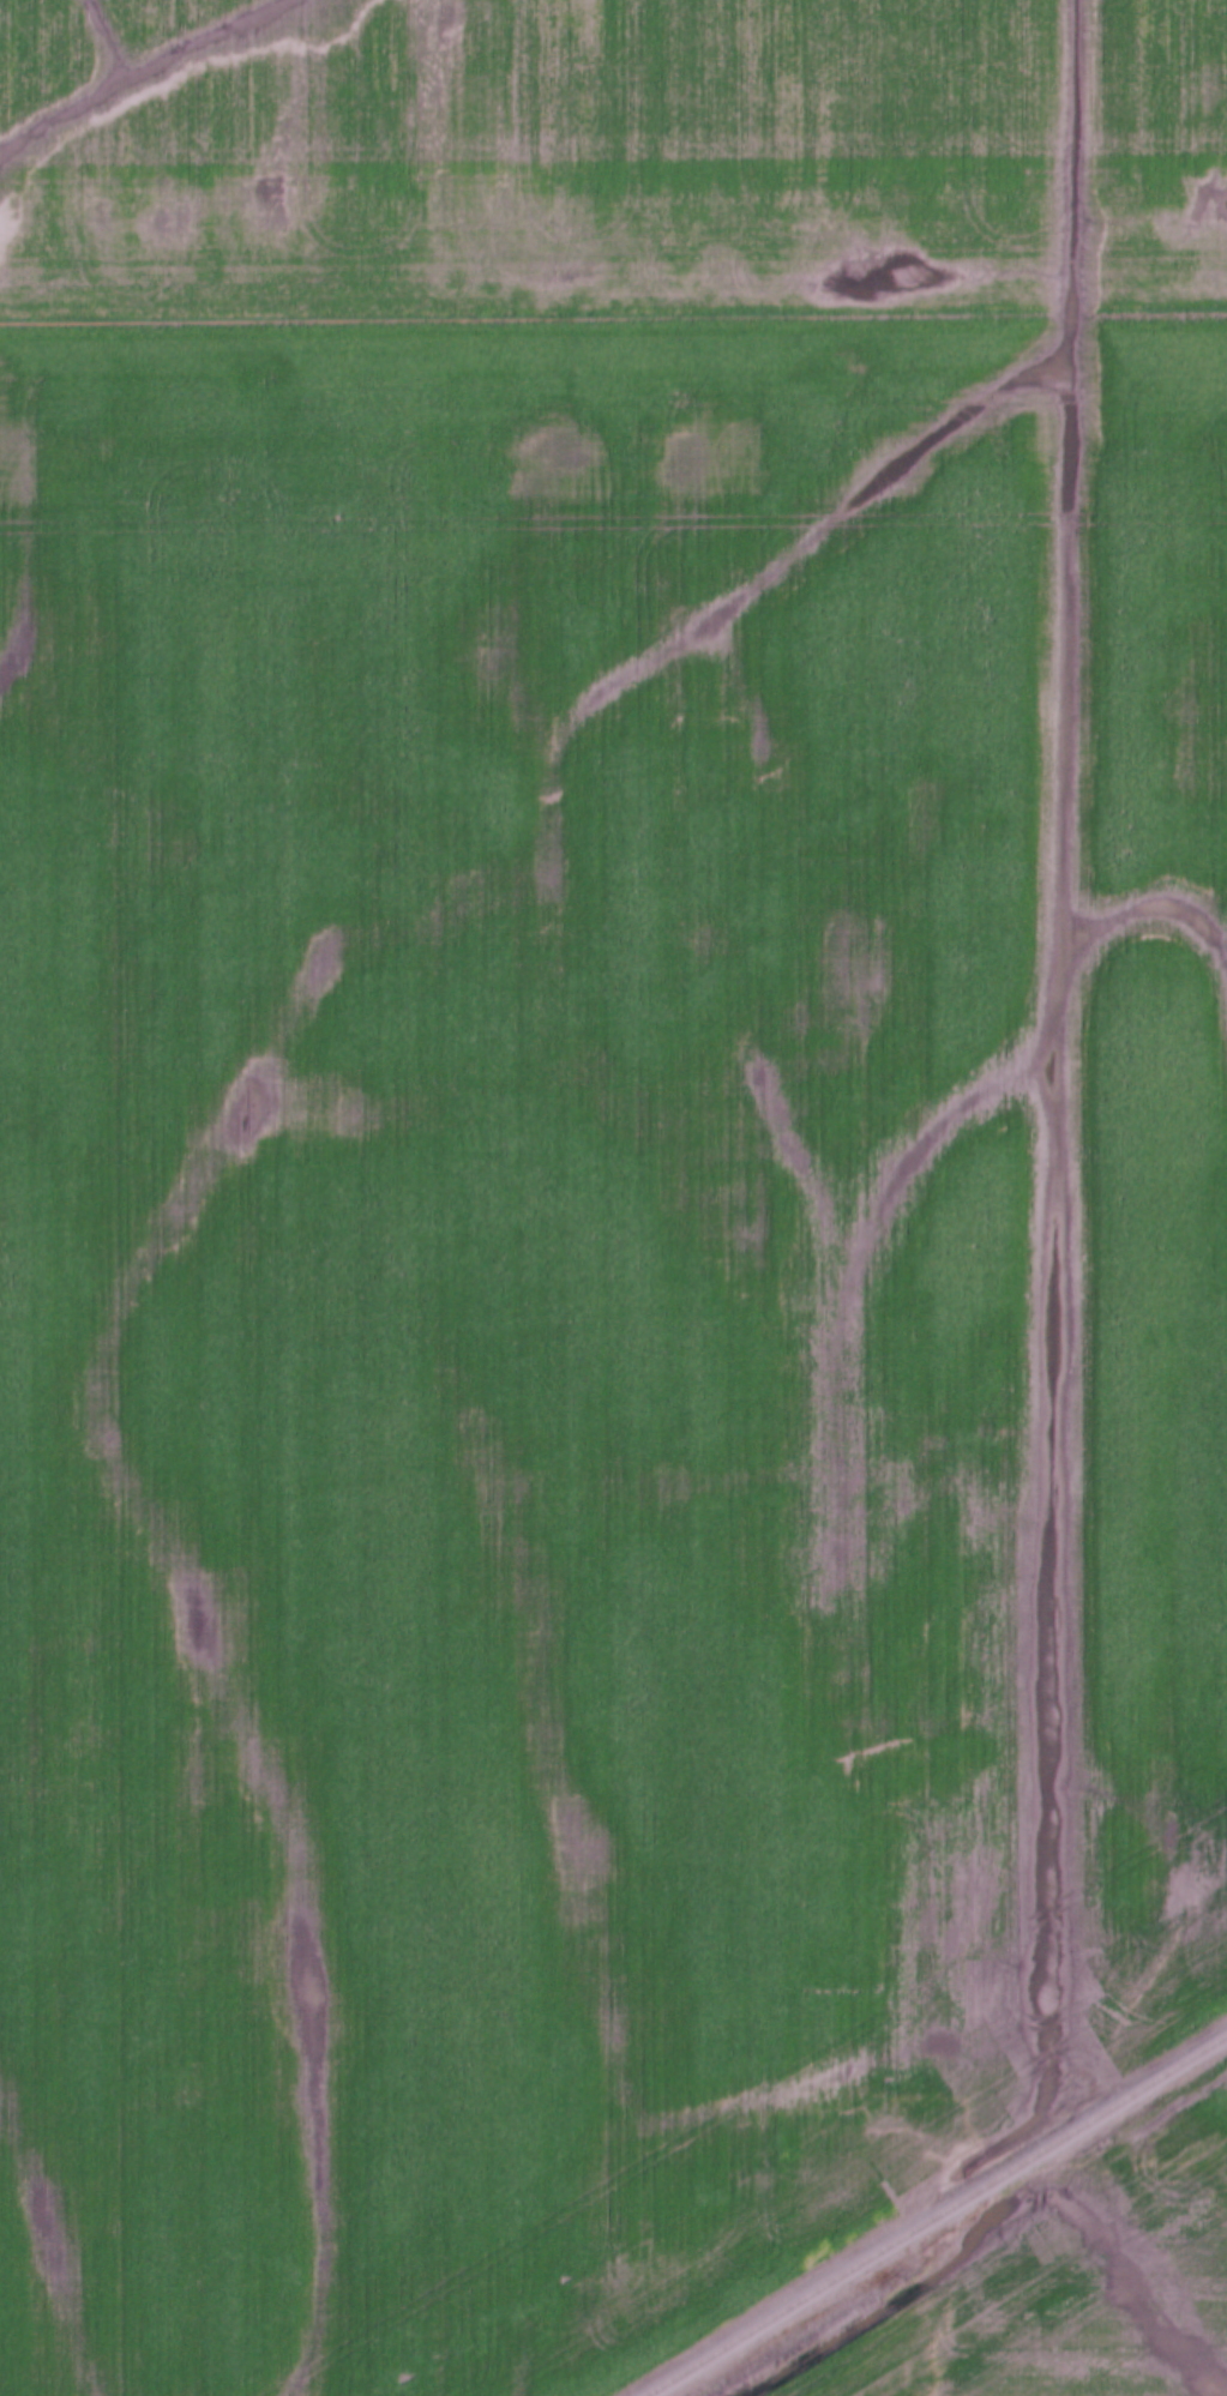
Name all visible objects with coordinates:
railway: (937, 2216)

